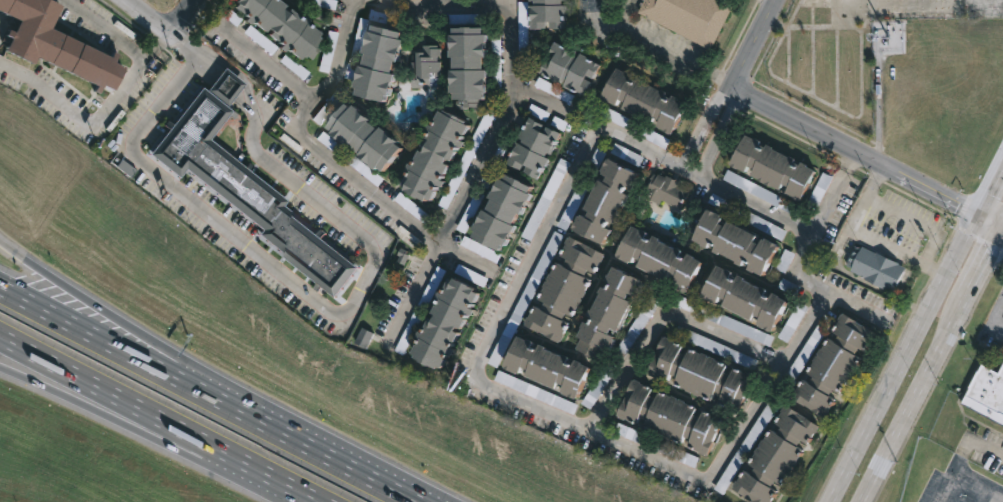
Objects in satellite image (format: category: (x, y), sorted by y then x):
road: (773, 1)
road: (446, 3)
road: (150, 11)
building: (553, 14)
road: (593, 14)
building: (691, 17)
road: (187, 18)
road: (106, 25)
building: (286, 26)
road: (162, 34)
road: (755, 43)
building: (53, 44)
road: (345, 45)
road: (666, 49)
building: (388, 64)
road: (267, 66)
building: (434, 67)
building: (478, 67)
building: (576, 72)
building: (228, 85)
road: (734, 88)
building: (555, 90)
building: (646, 100)
road: (89, 121)
building: (635, 127)
building: (374, 139)
building: (540, 149)
road: (855, 153)
building: (441, 156)
building: (355, 163)
road: (852, 164)
building: (775, 167)
road: (689, 172)
building: (666, 191)
building: (253, 192)
road: (989, 192)
traffic signals: (989, 194)
building: (616, 198)
road: (755, 204)
traffic signals: (956, 208)
building: (513, 209)
road: (549, 216)
building: (747, 216)
road: (448, 218)
road: (990, 219)
road: (988, 229)
road: (1001, 234)
road: (870, 237)
building: (728, 240)
road: (1001, 240)
building: (480, 249)
traffic signals: (994, 249)
building: (662, 256)
road: (806, 263)
road: (984, 266)
building: (875, 267)
road: (52, 278)
building: (566, 289)
building: (737, 295)
road: (318, 303)
building: (610, 314)
road: (994, 317)
road: (659, 318)
building: (455, 320)
building: (364, 337)
road: (904, 360)
building: (831, 364)
building: (549, 367)
building: (694, 371)
road: (175, 376)
road: (228, 387)
road: (764, 388)
road: (57, 392)
building: (985, 392)
road: (915, 398)
building: (677, 416)
road: (157, 419)
road: (589, 434)
road: (972, 441)
building: (679, 455)
building: (777, 456)
road: (203, 463)
road: (963, 474)
road: (387, 483)

